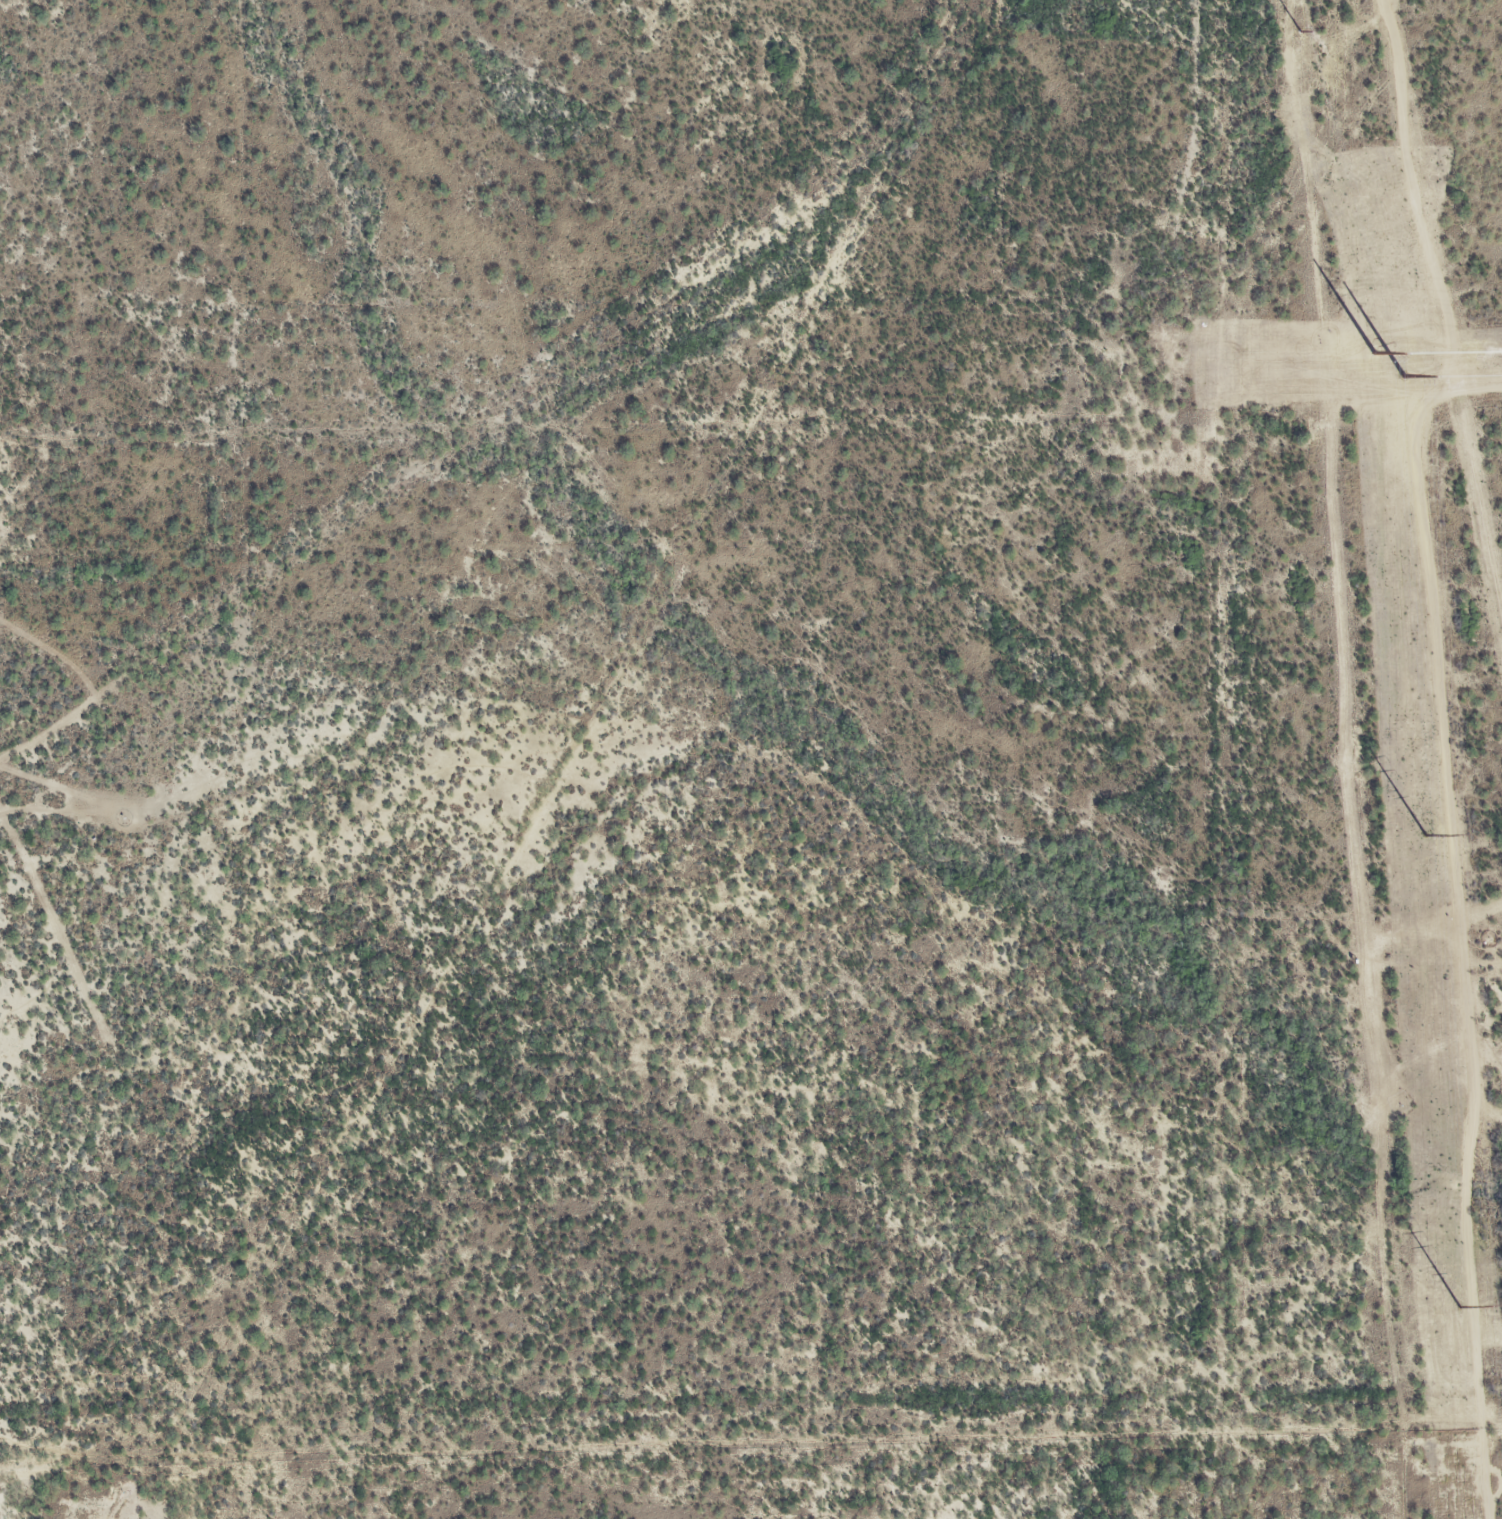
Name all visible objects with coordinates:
power tower: (1294, 42)
power tower: (1404, 376)
power tower: (1323, 422)
power tower: (1348, 756)
power tower: (1424, 835)
power tower: (1372, 1101)
power tower: (1459, 1307)
power tower: (1398, 1448)

